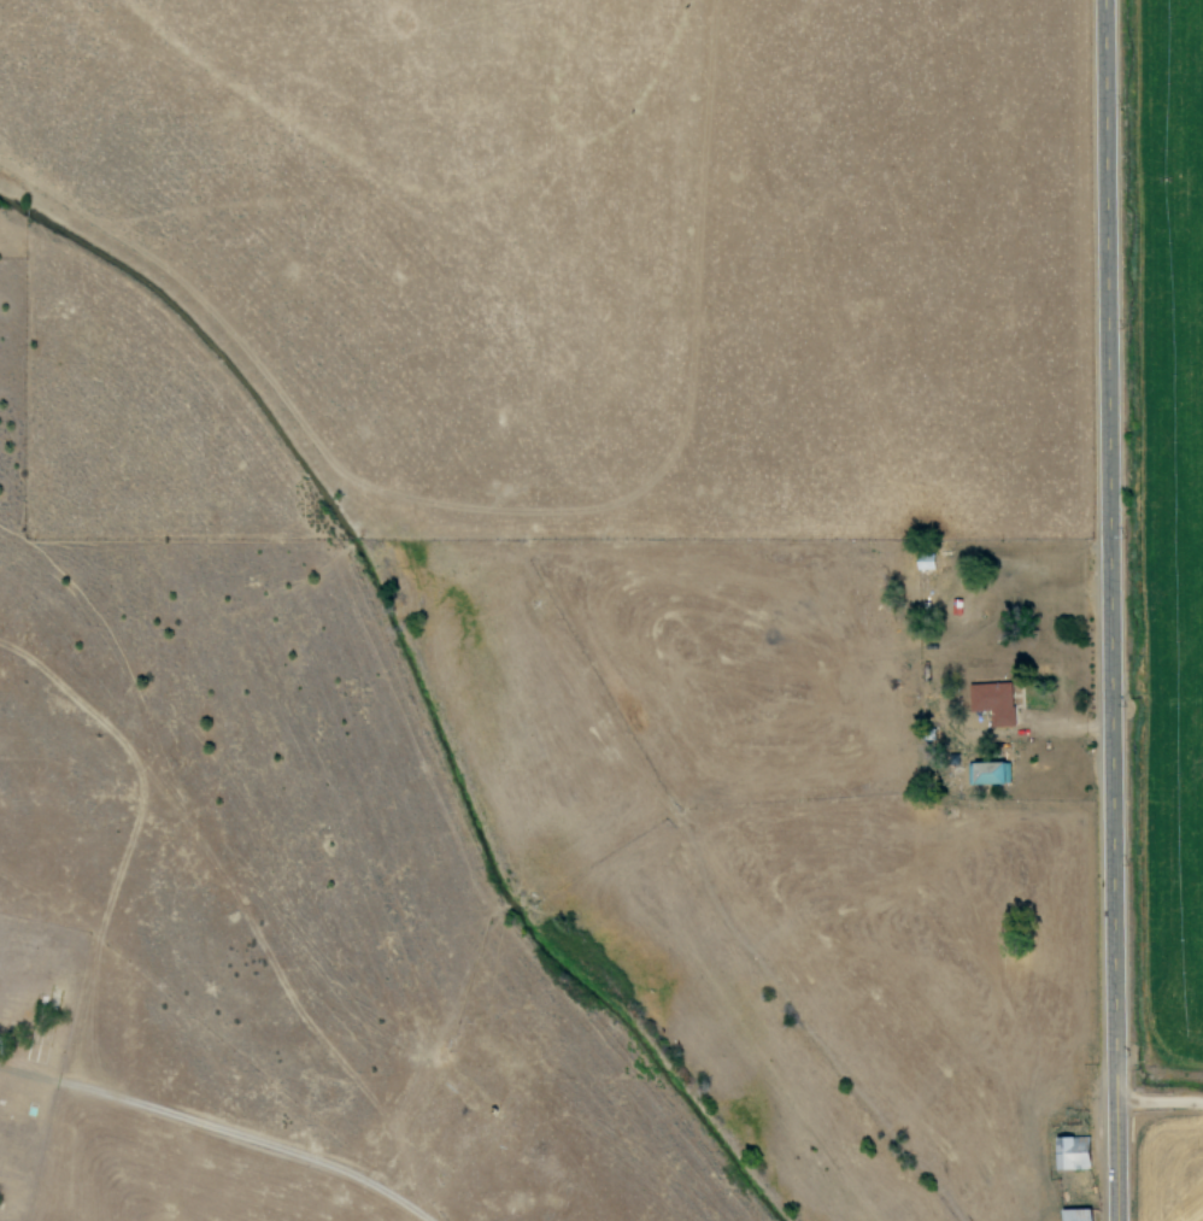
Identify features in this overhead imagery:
road: (1099, 610)
building: (996, 700)
building: (996, 771)
park: (31, 1044)
road: (1158, 1104)
road: (241, 1143)
building: (1076, 1152)

